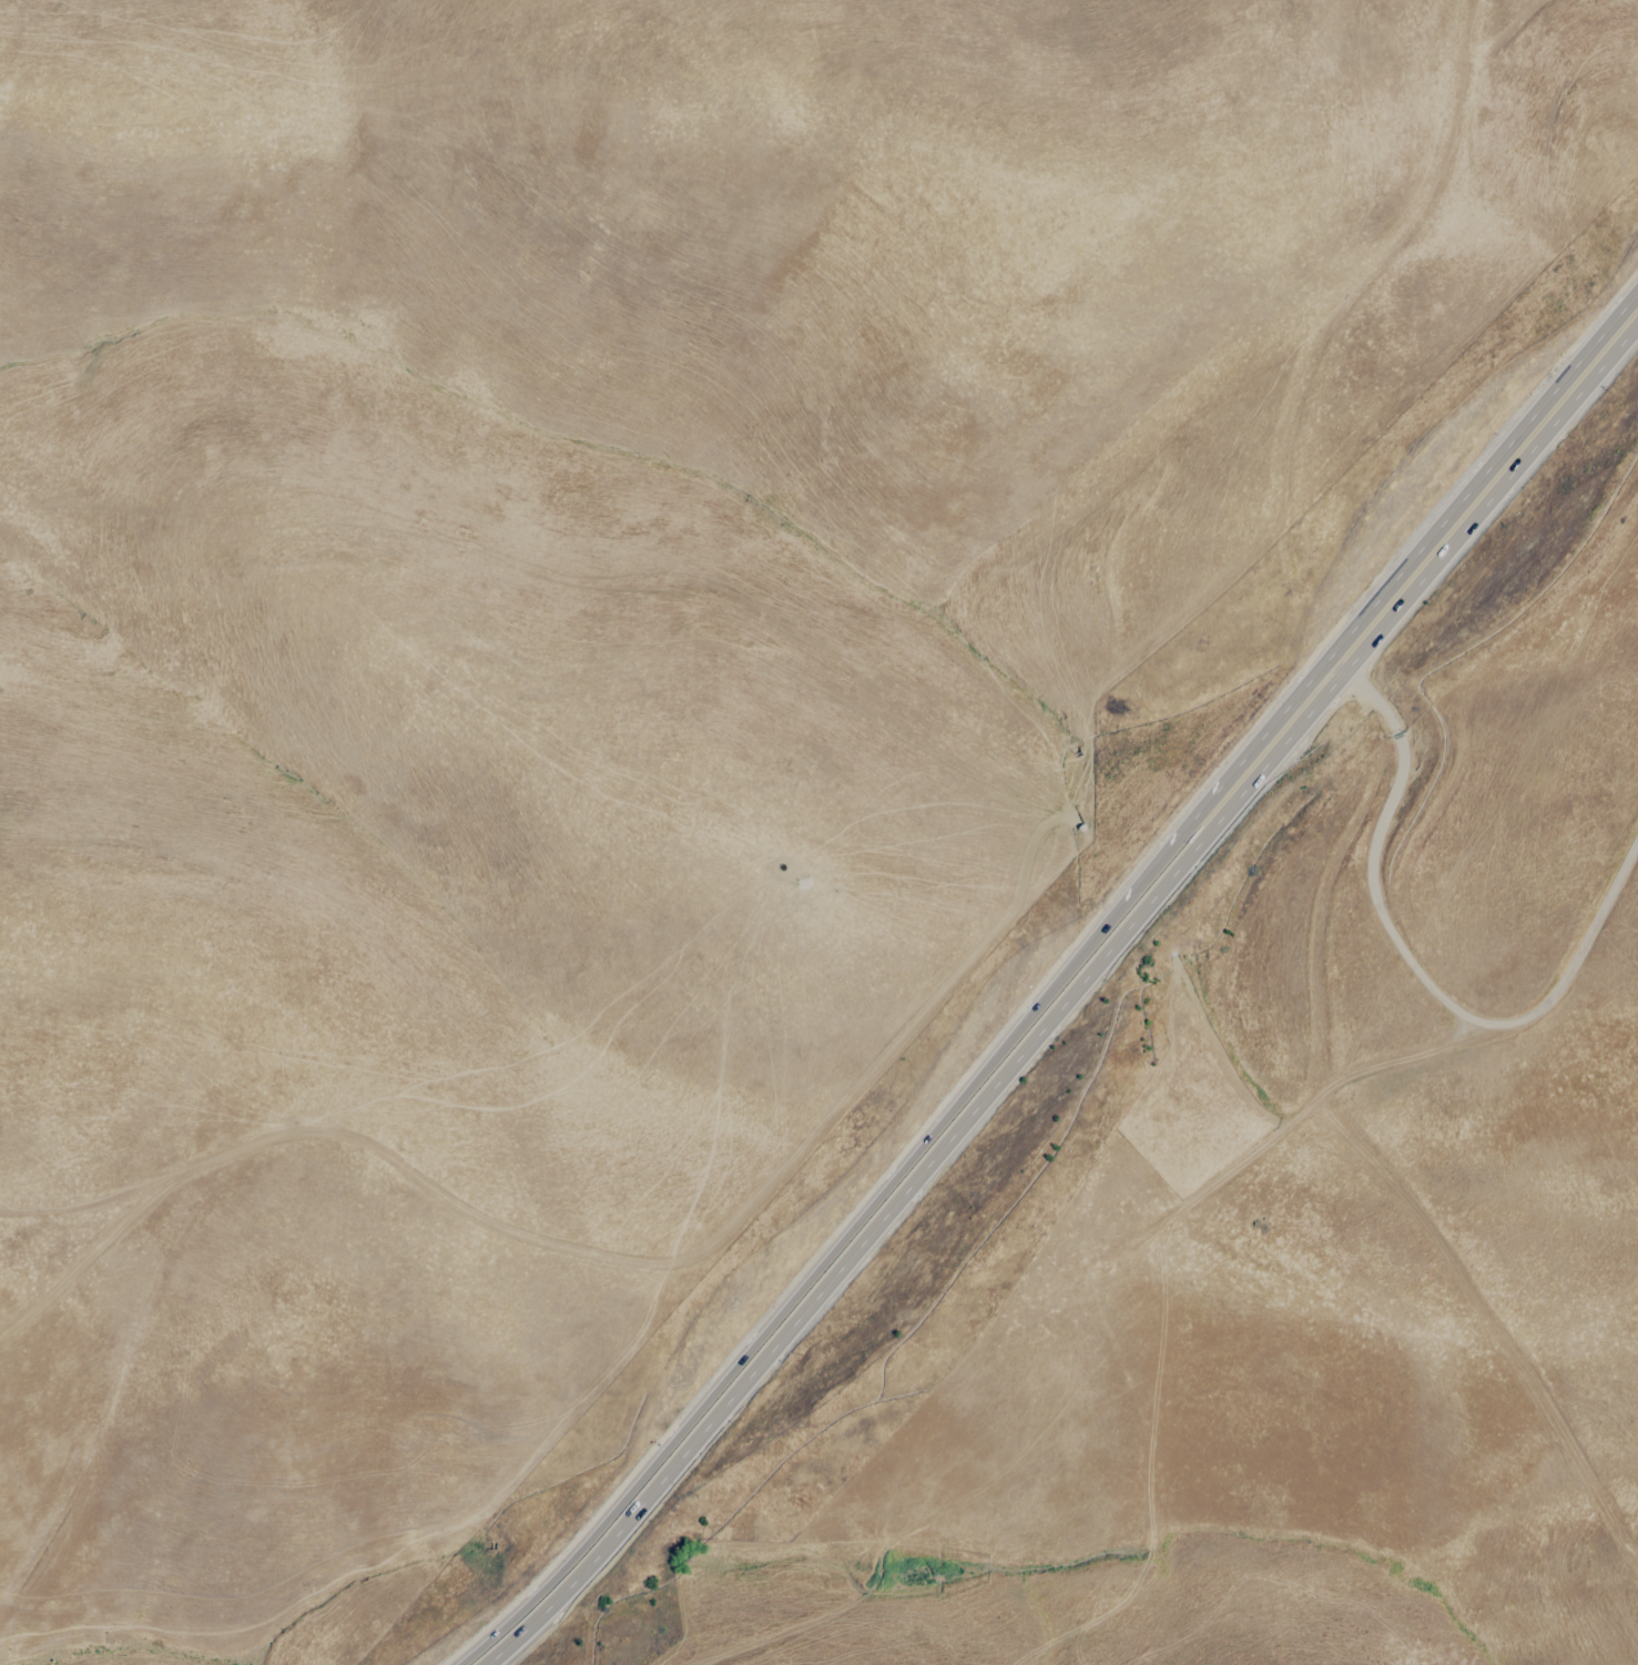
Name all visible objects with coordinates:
road: (1183, 445)
road: (1488, 460)
road: (1242, 755)
road: (1416, 975)
road: (1065, 997)
road: (1426, 1217)
road: (600, 1256)
road: (804, 1276)

